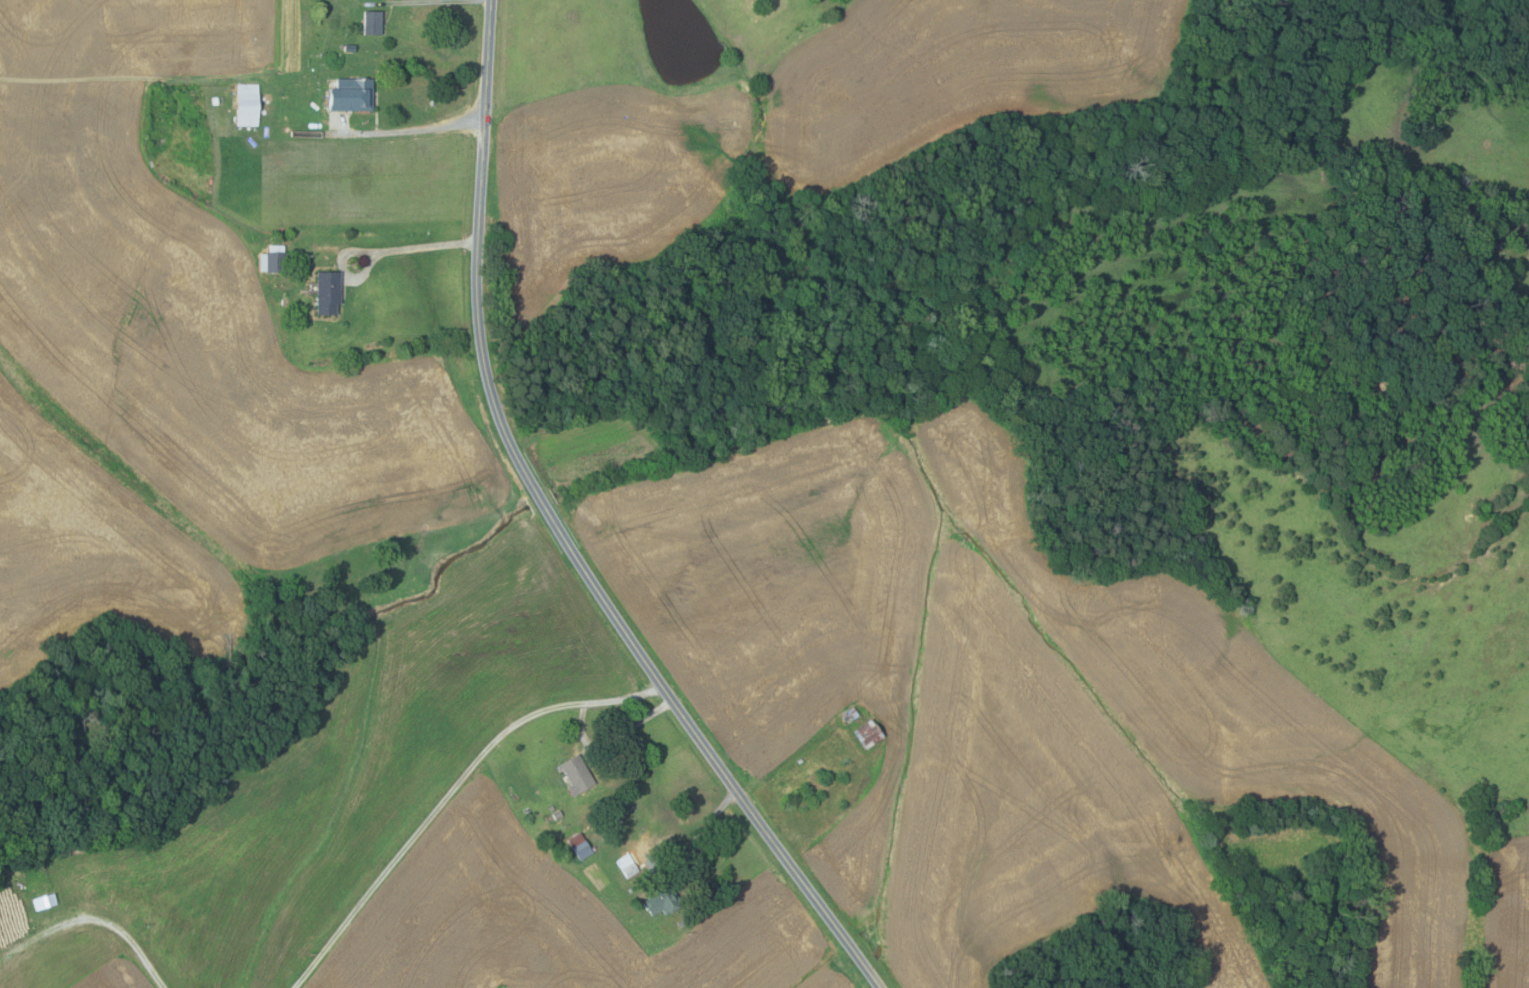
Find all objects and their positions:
road: (420, 1)
building: (374, 23)
building: (350, 49)
crop: (952, 79)
building: (353, 95)
building: (248, 105)
road: (411, 130)
crop: (608, 178)
road: (415, 247)
building: (274, 260)
building: (328, 293)
crop: (175, 357)
crop: (590, 445)
road: (561, 535)
crop: (1021, 709)
building: (850, 715)
building: (776, 722)
road: (628, 728)
building: (869, 733)
building: (800, 761)
building: (577, 774)
road: (450, 794)
building: (552, 807)
building: (558, 814)
road: (701, 831)
building: (581, 846)
building: (69, 849)
building: (631, 870)
building: (680, 872)
building: (19, 874)
building: (31, 877)
building: (664, 900)
building: (46, 901)
road: (94, 921)
building: (682, 922)

